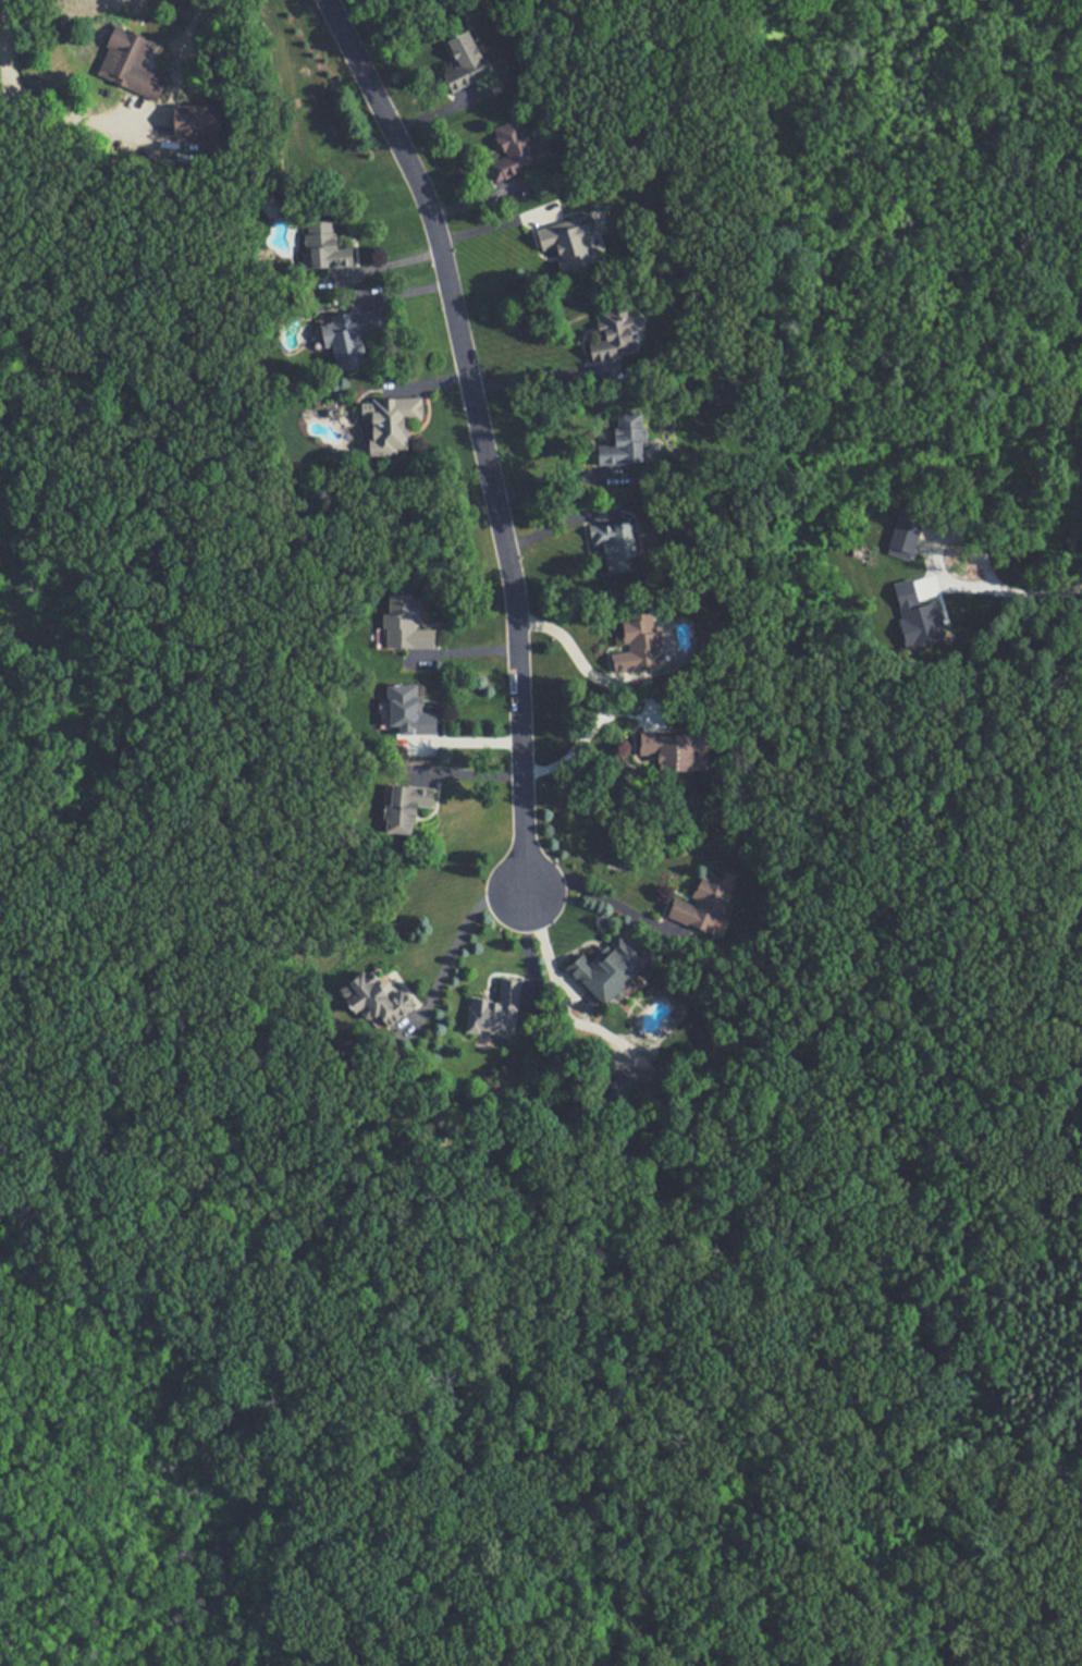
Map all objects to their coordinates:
road: (4, 46)
building: (468, 57)
building: (131, 62)
road: (4, 97)
road: (65, 115)
building: (198, 120)
building: (517, 149)
road: (492, 218)
building: (571, 243)
building: (328, 246)
building: (615, 329)
building: (356, 334)
road: (529, 380)
building: (389, 422)
road: (480, 434)
building: (626, 438)
road: (550, 476)
building: (616, 544)
building: (406, 623)
building: (639, 642)
road: (567, 644)
building: (410, 709)
road: (581, 737)
building: (671, 746)
building: (408, 808)
road: (586, 890)
building: (704, 904)
road: (456, 946)
road: (522, 953)
building: (610, 968)
building: (378, 1000)
building: (497, 1008)
park: (539, 1400)

